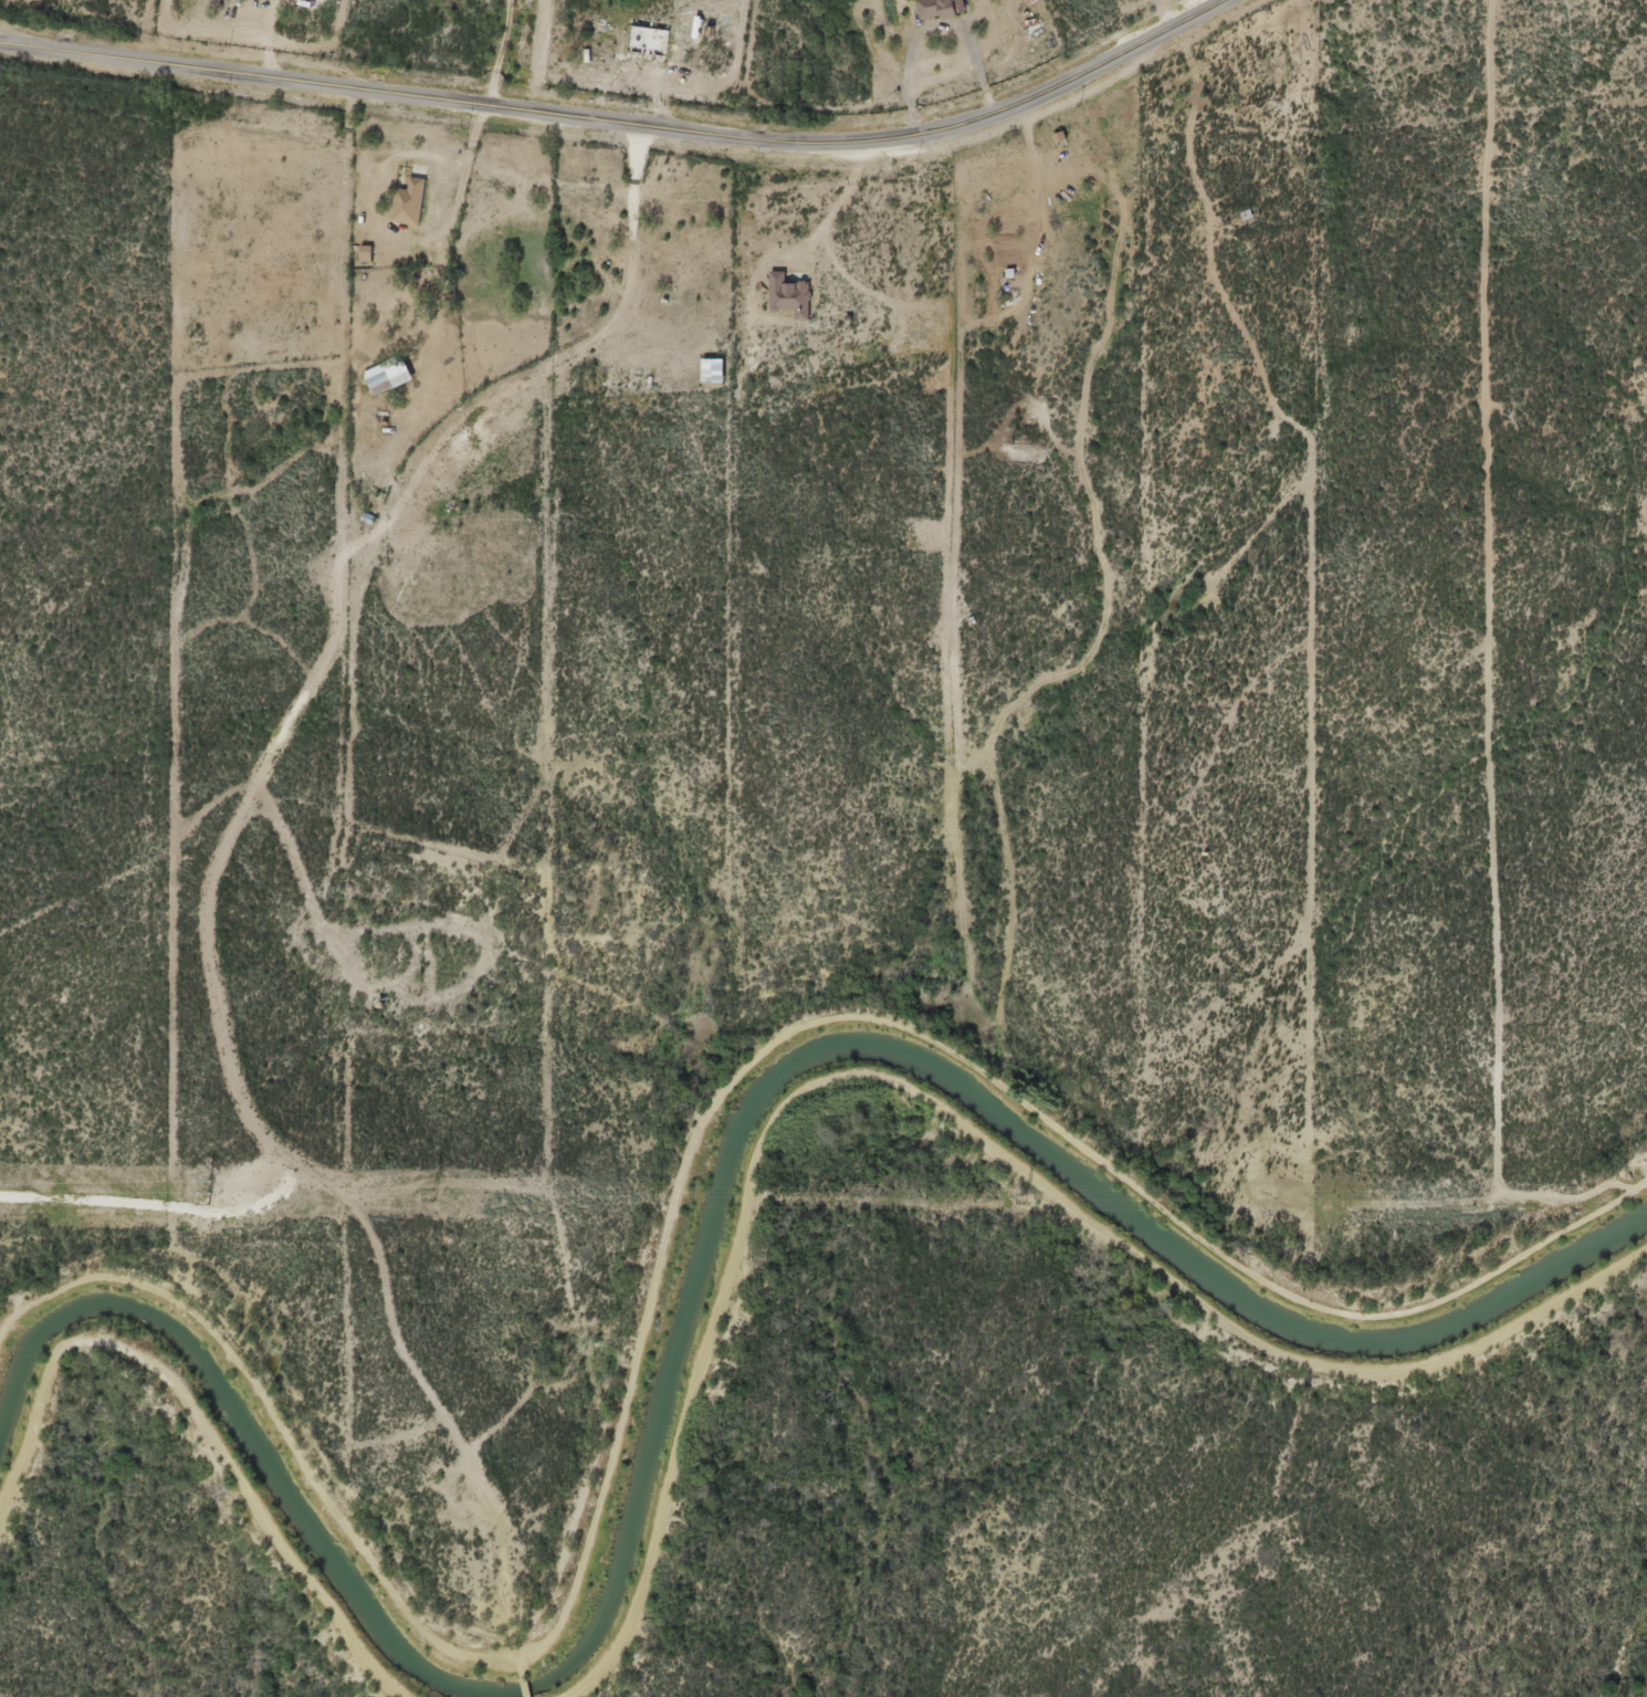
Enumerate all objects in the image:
building: (940, 7)
road: (629, 133)
building: (410, 198)
building: (790, 291)
building: (715, 366)
building: (388, 371)
road: (216, 883)
power tower: (199, 1194)
power tower: (436, 1195)
power tower: (1025, 1200)
power tower: (1473, 1201)

